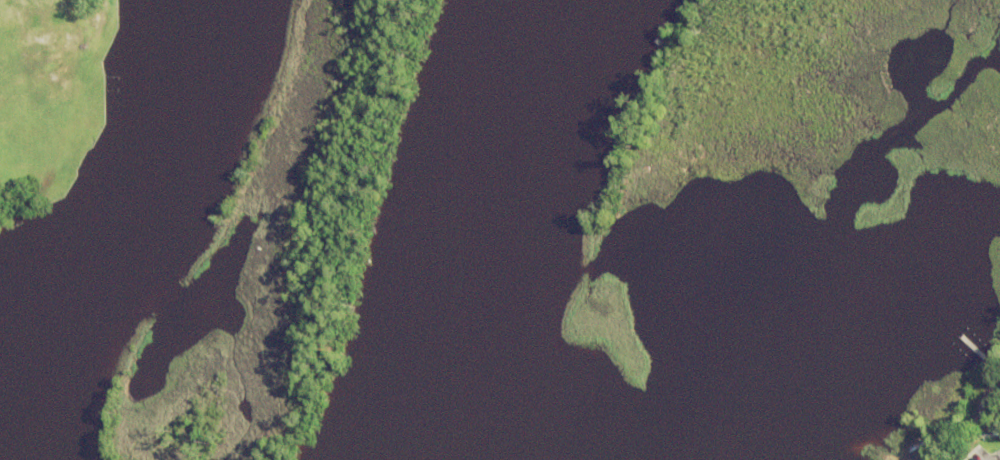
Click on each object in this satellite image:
river: (106, 225)
river: (502, 230)
road: (995, 458)

